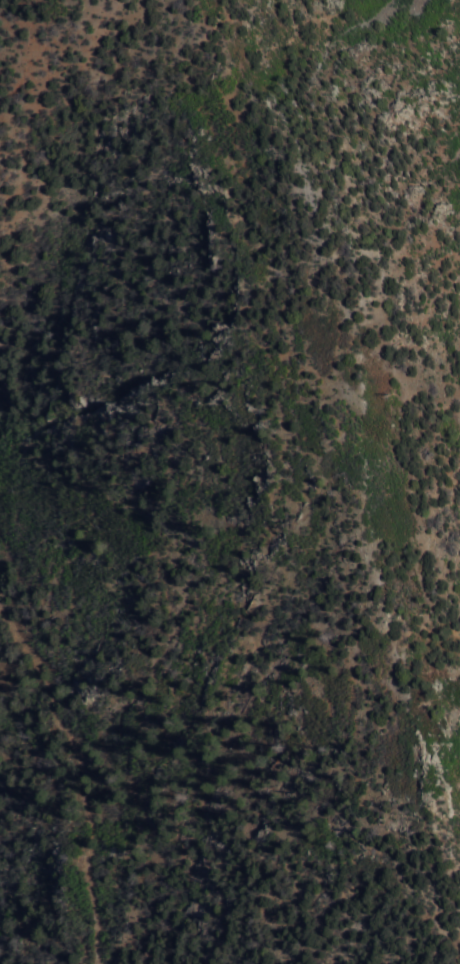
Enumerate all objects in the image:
road: (22, 715)

